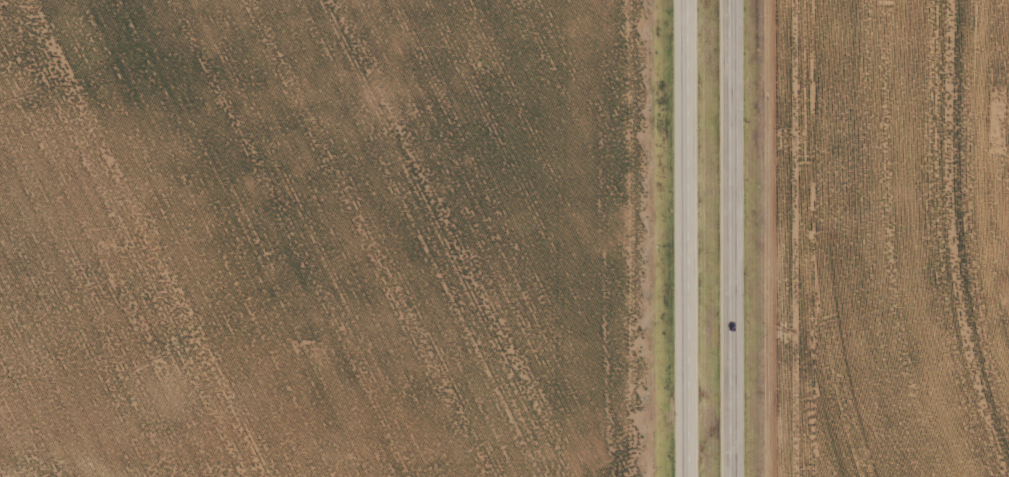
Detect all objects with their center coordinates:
road: (690, 238)
road: (731, 238)

